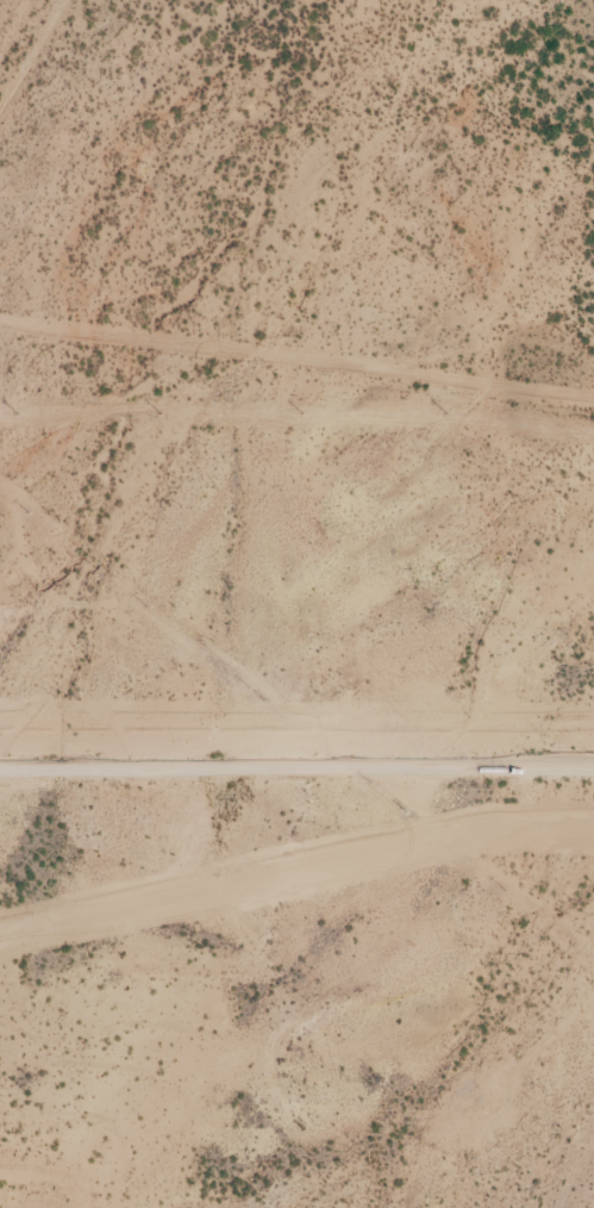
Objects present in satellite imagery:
road: (296, 784)

